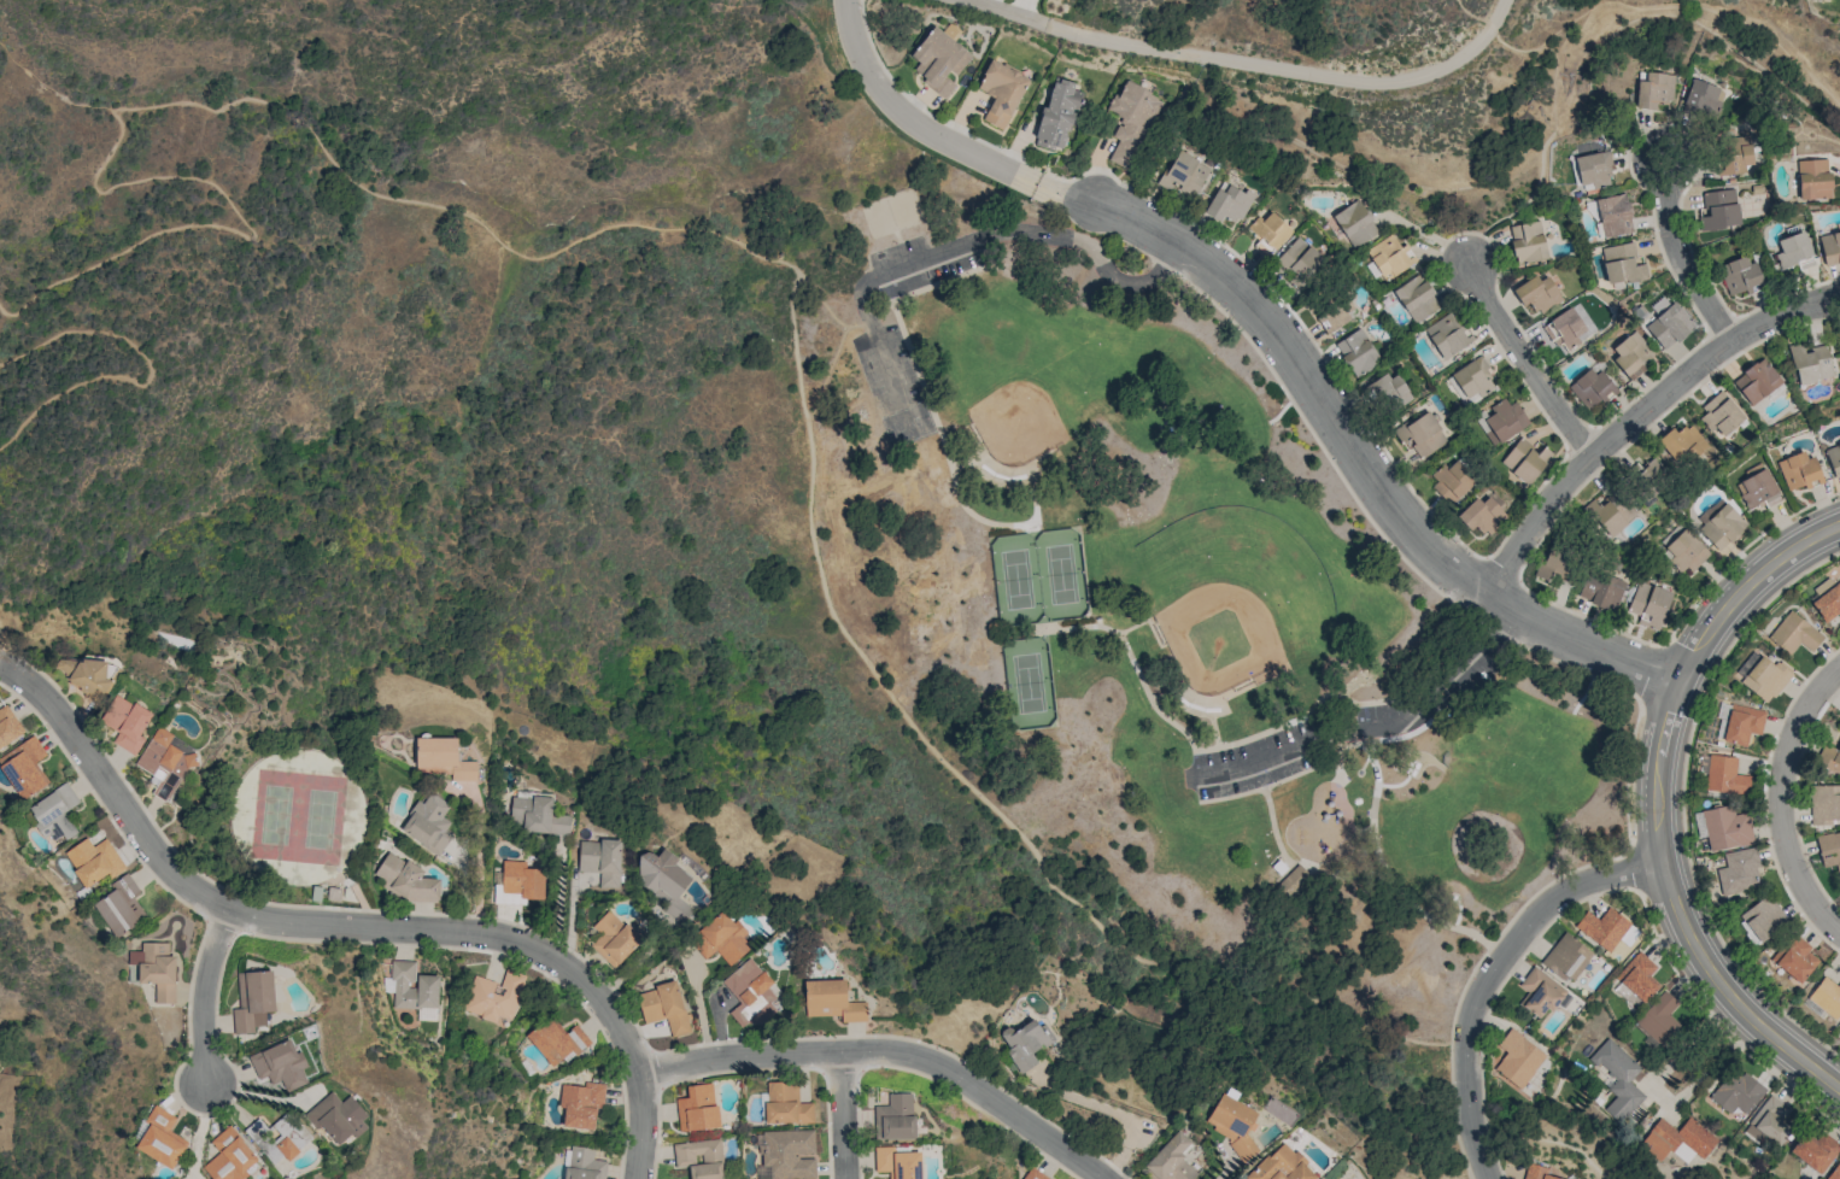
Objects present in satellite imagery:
building: (940, 60)
road: (1250, 64)
building: (1654, 89)
road: (48, 92)
building: (1002, 92)
road: (1552, 93)
building: (1703, 98)
road: (207, 111)
building: (1059, 115)
road: (913, 119)
building: (1132, 122)
building: (1734, 156)
building: (1594, 171)
building: (1184, 174)
building: (1815, 178)
building: (1230, 203)
building: (1721, 209)
building: (1613, 215)
building: (1355, 223)
building: (1270, 230)
road: (972, 241)
building: (1528, 242)
building: (1830, 247)
building: (1793, 250)
road: (1678, 253)
building: (1388, 258)
building: (1301, 259)
building: (1623, 263)
parking lot: (912, 265)
building: (1740, 275)
building: (1539, 292)
building: (1417, 298)
building: (1336, 313)
road: (792, 318)
building: (1669, 325)
building: (1566, 328)
building: (1449, 334)
building: (1839, 342)
building: (1358, 352)
building: (1633, 354)
road: (1524, 359)
building: (1810, 363)
road: (151, 375)
building: (1475, 380)
building: (1757, 381)
building: (1590, 387)
building: (1390, 393)
road: (1637, 412)
building: (1719, 413)
building: (1502, 421)
building: (1424, 435)
road: (1348, 442)
building: (1682, 444)
building: (1834, 458)
building: (1527, 461)
building: (1799, 470)
building: (1452, 480)
building: (1649, 480)
building: (1758, 489)
building: (1483, 514)
building: (1612, 514)
building: (1722, 527)
building: (1686, 552)
building: (1555, 565)
building: (1600, 589)
building: (1827, 599)
building: (1648, 604)
building: (1794, 633)
park: (1095, 641)
road: (4, 652)
building: (86, 676)
building: (1765, 679)
building: (127, 722)
building: (1742, 723)
building: (8, 726)
road: (915, 726)
road: (1371, 727)
building: (443, 758)
building: (1829, 758)
building: (165, 762)
parking lot: (1249, 766)
building: (24, 767)
building: (1724, 775)
road: (1780, 798)
road: (1654, 803)
building: (1824, 804)
building: (55, 813)
building: (537, 815)
building: (428, 823)
building: (1725, 827)
building: (1829, 849)
road: (480, 856)
building: (600, 860)
building: (94, 861)
building: (686, 864)
building: (1739, 872)
building: (406, 879)
building: (1295, 879)
building: (518, 884)
building: (664, 886)
building: (121, 905)
building: (1762, 917)
road: (354, 928)
building: (1604, 928)
building: (613, 938)
building: (721, 938)
building: (1566, 957)
building: (1795, 958)
building: (156, 969)
road: (1490, 975)
building: (1637, 976)
building: (1540, 992)
building: (750, 993)
road: (203, 995)
building: (494, 996)
road: (1302, 997)
building: (1826, 997)
building: (253, 1001)
building: (831, 1001)
road: (698, 1003)
building: (664, 1007)
building: (1659, 1019)
building: (1839, 1027)
building: (557, 1042)
building: (1024, 1043)
road: (892, 1048)
building: (1516, 1057)
building: (280, 1063)
building: (1618, 1079)
building: (1736, 1091)
road: (1659, 1093)
building: (581, 1104)
building: (785, 1104)
building: (696, 1107)
road: (1124, 1113)
road: (845, 1114)
building: (336, 1118)
building: (895, 1118)
building: (1768, 1121)
building: (1232, 1125)
building: (287, 1136)
building: (159, 1137)
building: (1677, 1138)
building: (1816, 1151)
building: (789, 1154)
building: (229, 1156)
building: (699, 1159)
building: (1170, 1160)
building: (897, 1162)
building: (584, 1163)
building: (1282, 1166)
building: (1536, 1172)
building: (1834, 1172)
building: (1033, 1174)

